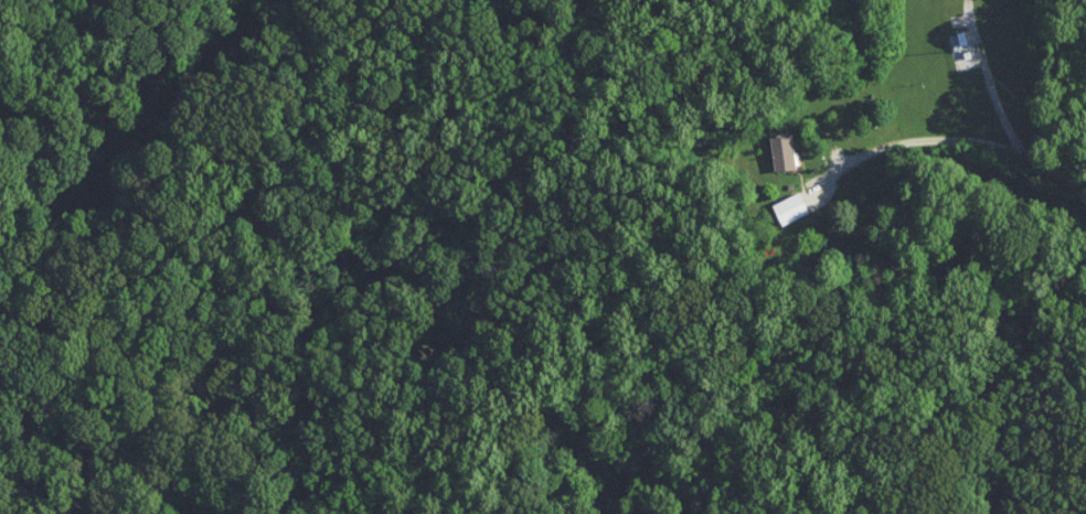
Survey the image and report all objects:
road: (994, 92)
road: (973, 140)
building: (784, 151)
building: (798, 202)

